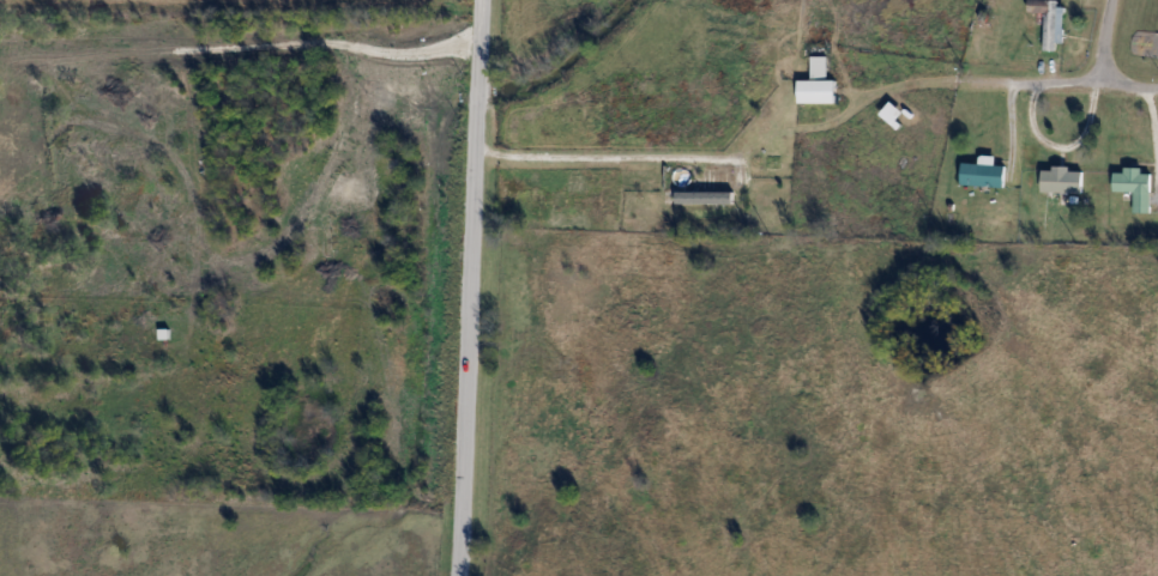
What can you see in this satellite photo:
building: (1050, 20)
road: (1102, 42)
building: (786, 62)
road: (1056, 81)
building: (816, 91)
building: (983, 175)
building: (1062, 180)
building: (707, 187)
building: (1135, 187)
road: (469, 287)

